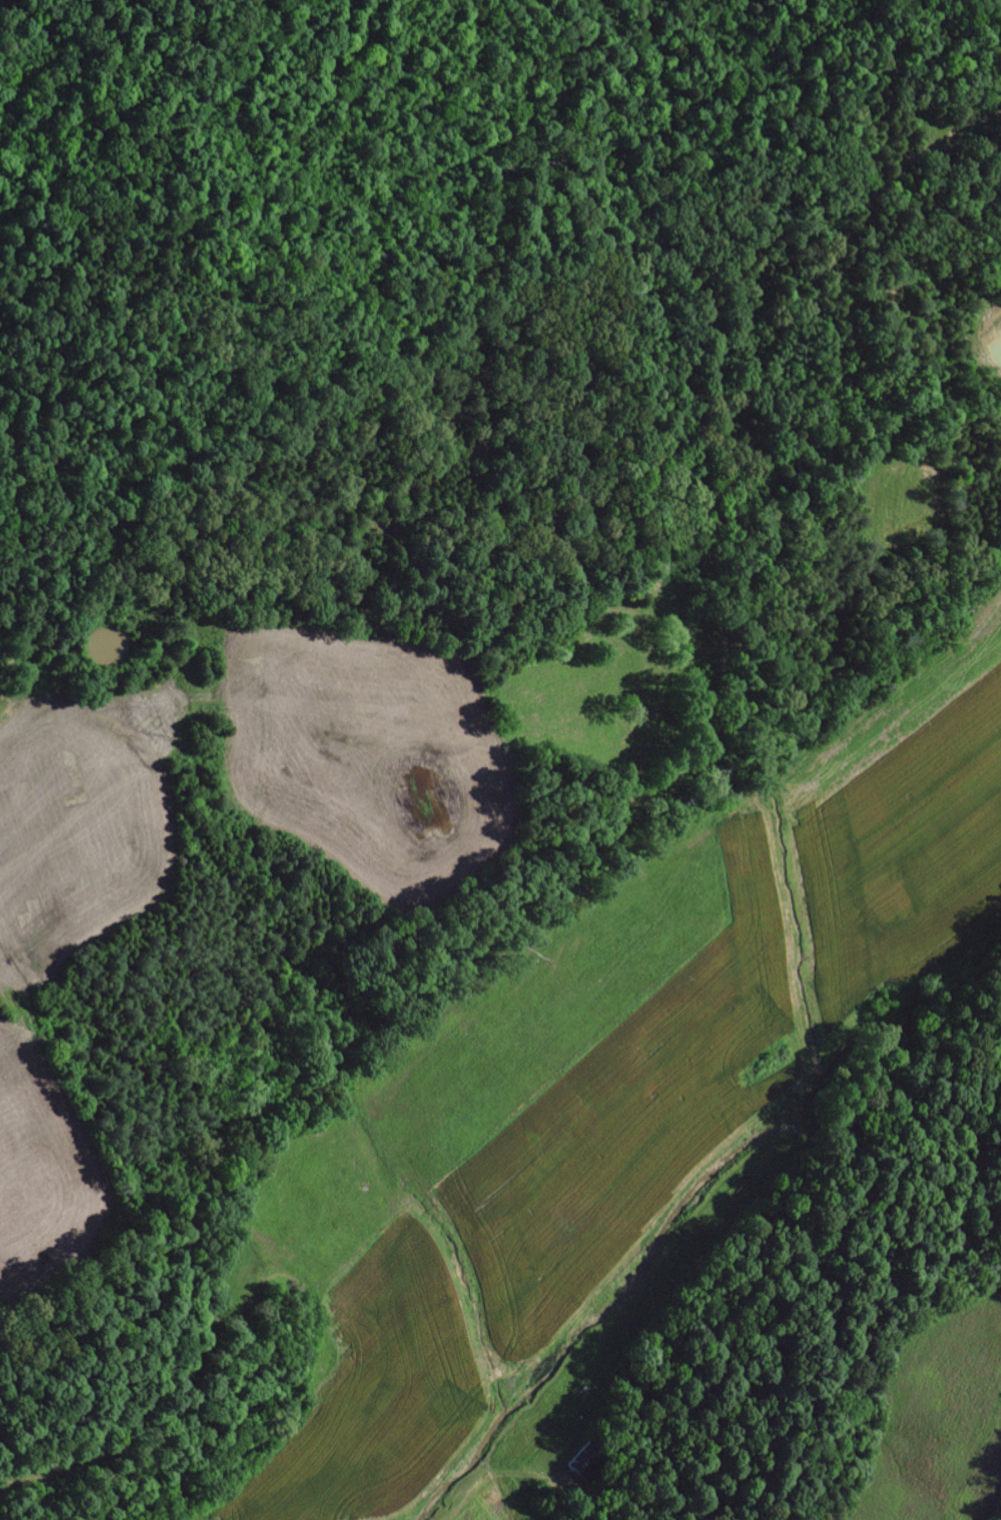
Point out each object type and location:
building: (582, 1458)

